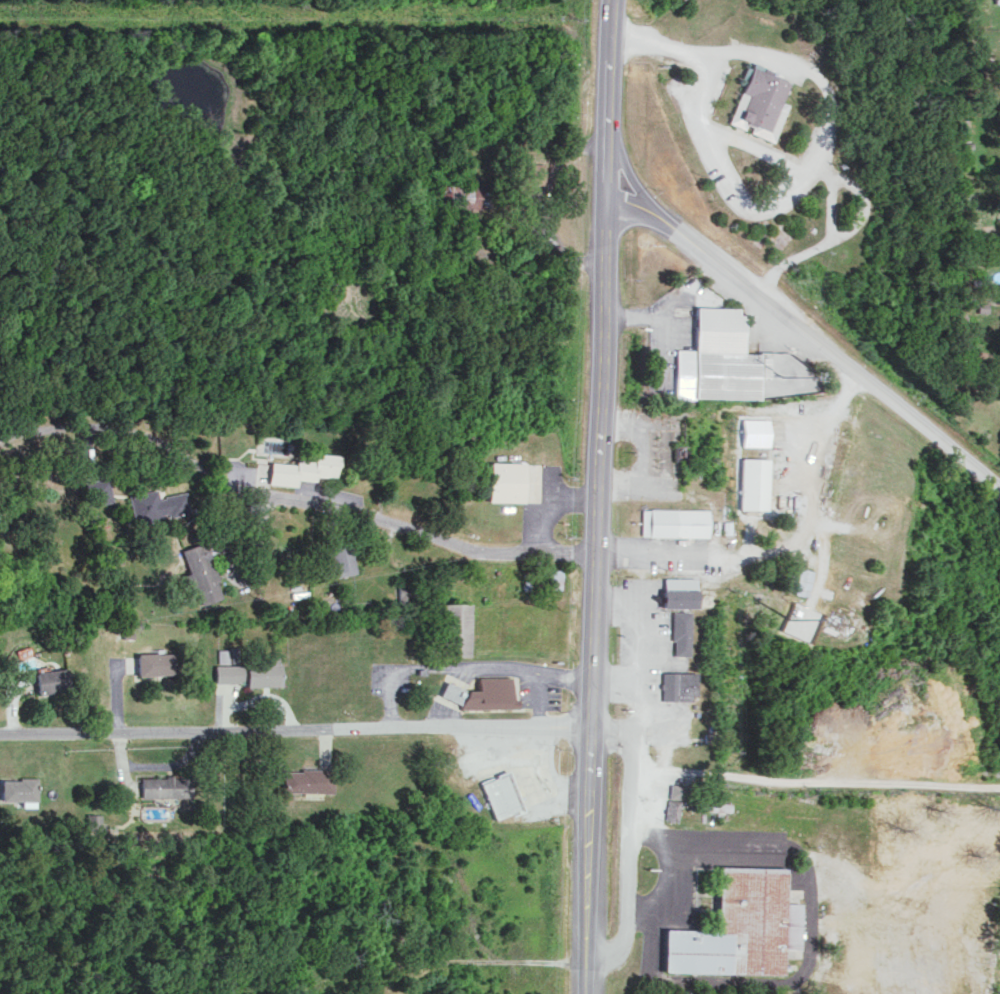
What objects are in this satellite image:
building: (997, 1)
building: (760, 102)
road: (827, 135)
building: (530, 174)
building: (468, 194)
road: (839, 234)
road: (807, 336)
building: (715, 357)
road: (140, 431)
building: (753, 431)
road: (819, 440)
building: (300, 468)
building: (500, 480)
building: (752, 482)
building: (98, 490)
road: (600, 496)
building: (157, 504)
building: (672, 521)
road: (430, 535)
building: (340, 555)
road: (747, 556)
building: (201, 571)
building: (551, 578)
building: (801, 581)
building: (677, 591)
building: (799, 621)
building: (457, 628)
building: (681, 632)
building: (222, 655)
building: (154, 663)
building: (248, 672)
building: (50, 679)
building: (678, 685)
building: (481, 693)
road: (297, 727)
building: (305, 780)
building: (163, 786)
building: (18, 790)
building: (499, 794)
building: (697, 796)
building: (673, 808)
building: (92, 821)
building: (739, 926)

